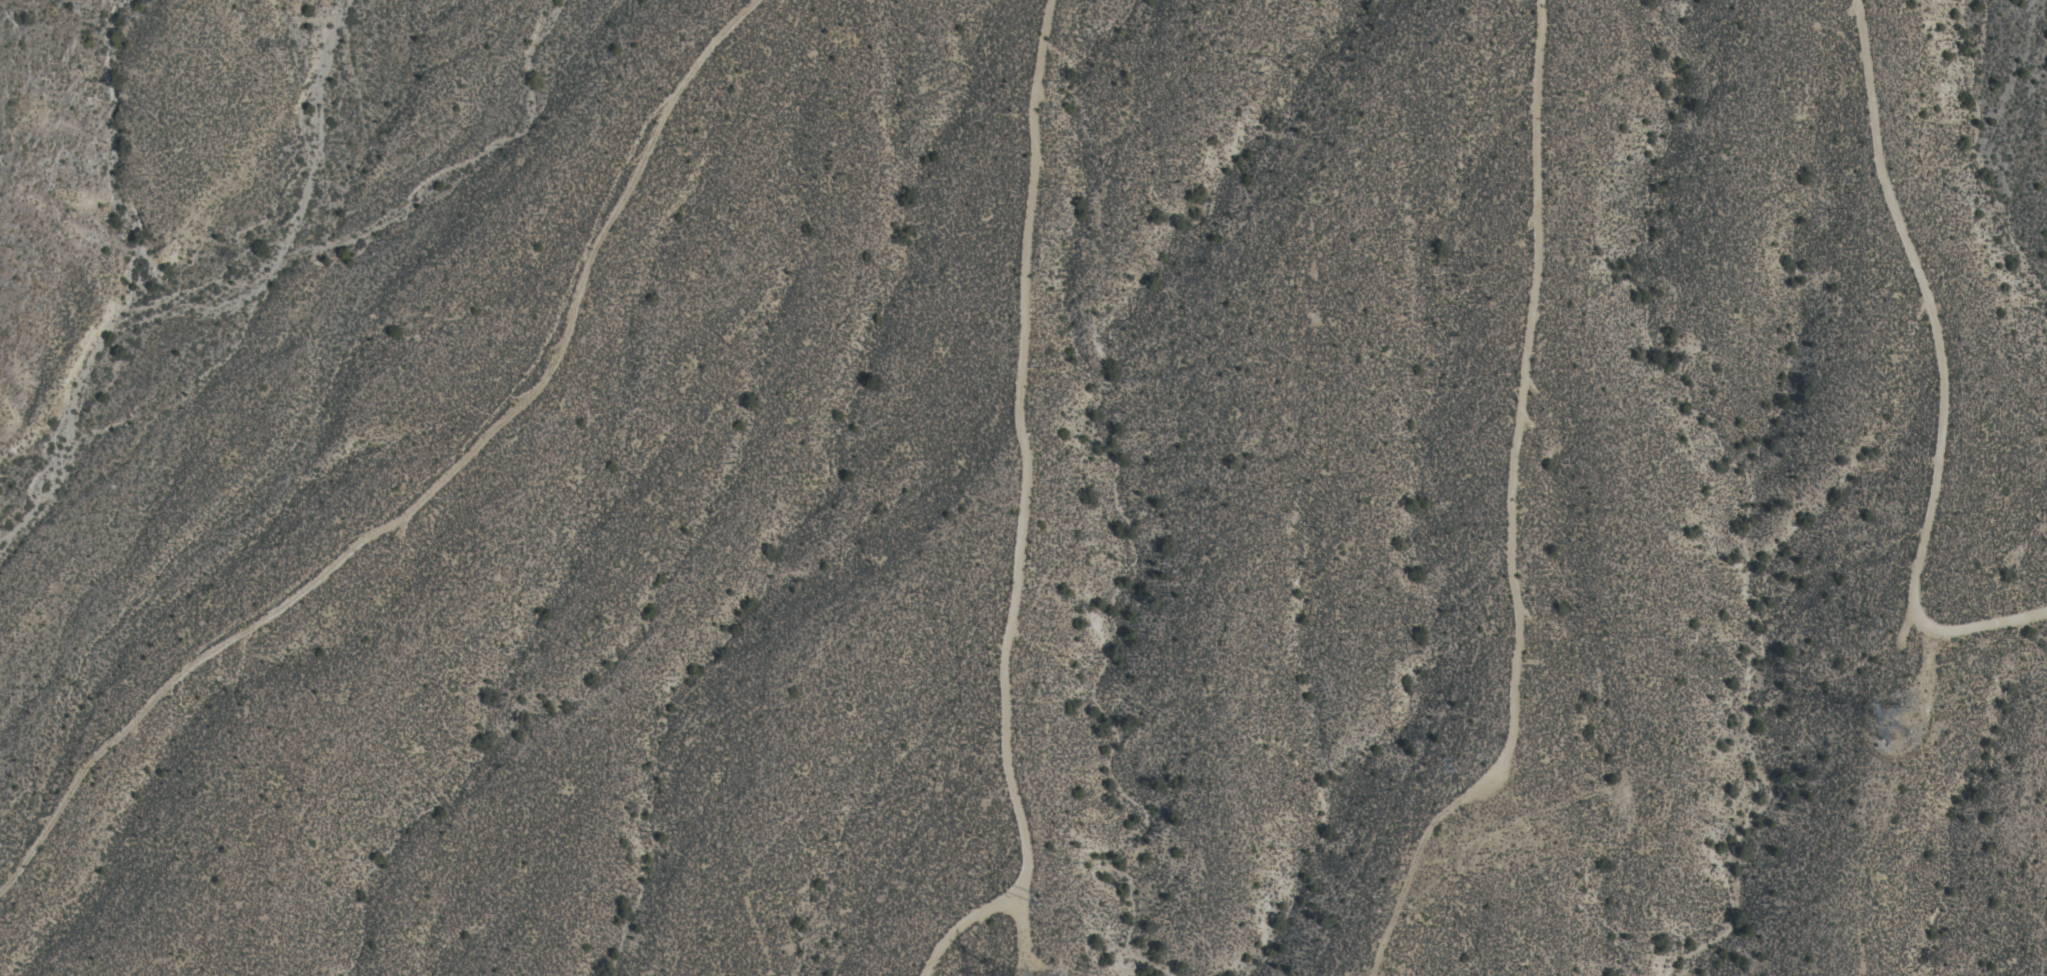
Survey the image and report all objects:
road: (1036, 118)
road: (1938, 375)
road: (1518, 408)
road: (430, 487)
road: (1007, 630)
power tower: (1889, 718)
road: (1900, 741)
power tower: (1460, 776)
power tower: (1043, 897)
road: (1020, 927)
road: (1022, 969)
road: (1037, 969)

